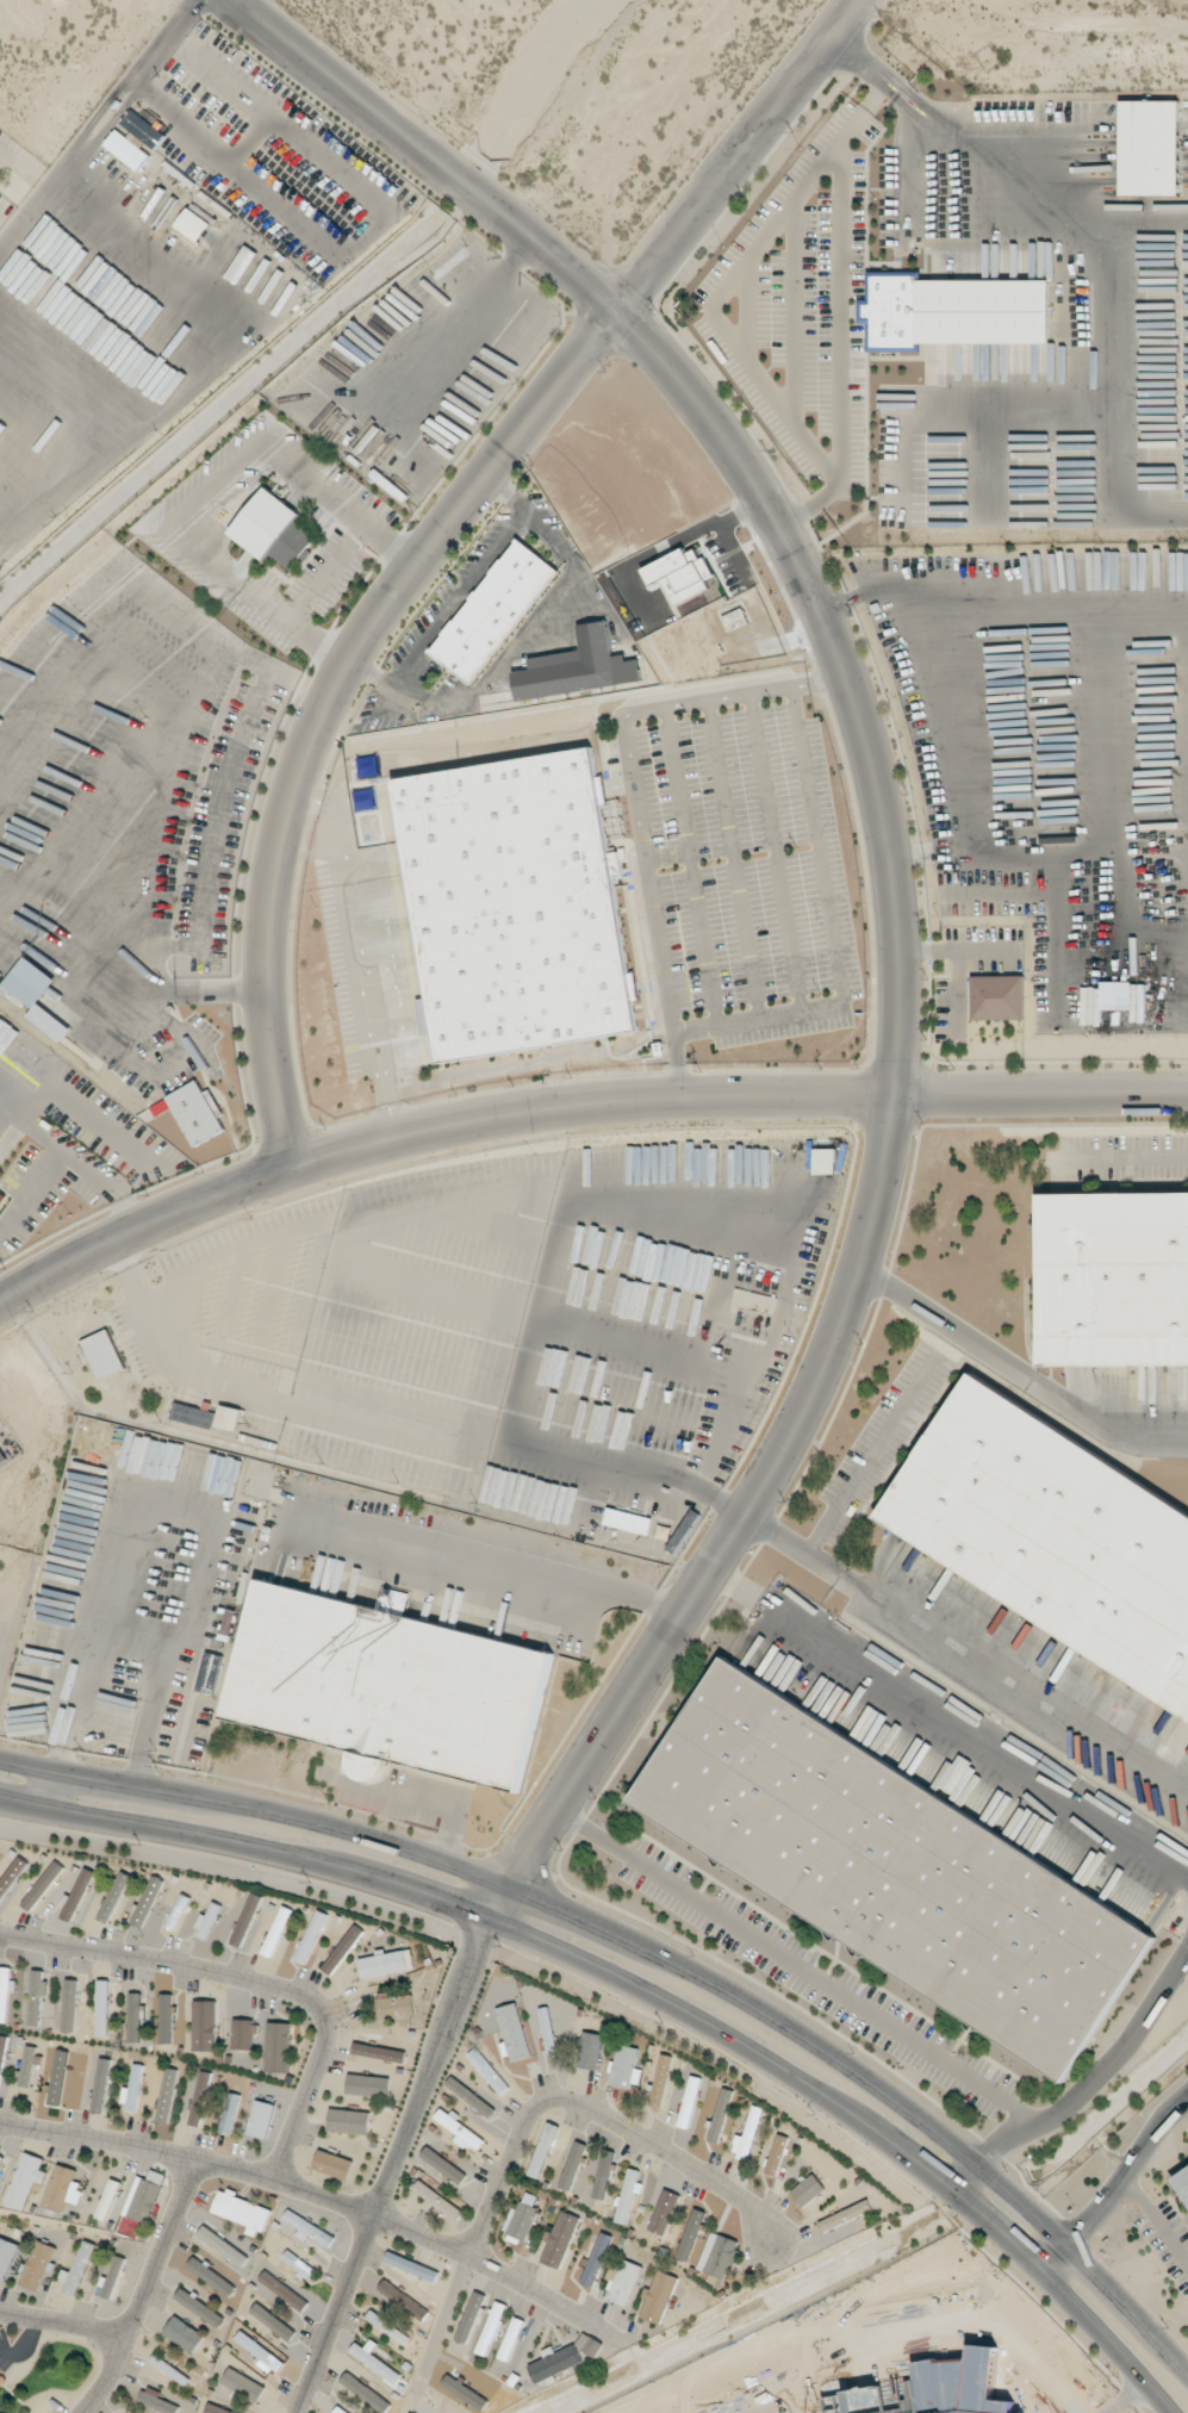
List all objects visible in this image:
building: (143, 129)
building: (1150, 148)
building: (126, 150)
road: (4, 160)
building: (193, 225)
building: (952, 311)
road: (459, 321)
road: (213, 484)
road: (343, 502)
building: (273, 529)
road: (437, 533)
road: (392, 540)
road: (330, 571)
road: (260, 599)
building: (495, 611)
road: (319, 641)
building: (578, 667)
road: (821, 679)
road: (636, 708)
road: (900, 882)
building: (517, 902)
road: (659, 944)
road: (360, 951)
road: (836, 960)
building: (1115, 995)
building: (37, 996)
building: (997, 997)
road: (574, 1106)
building: (197, 1113)
road: (1118, 1159)
building: (2, 1193)
building: (1117, 1280)
building: (104, 1354)
road: (1019, 1370)
building: (193, 1416)
building: (229, 1417)
road: (867, 1454)
building: (2, 1456)
building: (628, 1520)
building: (1051, 1534)
road: (790, 1546)
road: (493, 1561)
building: (210, 1673)
building: (390, 1685)
road: (1013, 1689)
road: (950, 1717)
building: (895, 1871)
building: (11, 1876)
building: (42, 1885)
building: (77, 1893)
building: (114, 1896)
building: (147, 1901)
building: (178, 1913)
building: (245, 1918)
building: (276, 1930)
building: (311, 1936)
building: (342, 1949)
road: (655, 1953)
building: (386, 1964)
road: (250, 1982)
road: (829, 1988)
building: (5, 1991)
road: (646, 1992)
building: (36, 1995)
building: (69, 2005)
building: (394, 2005)
building: (102, 2008)
building: (133, 2017)
building: (166, 2019)
building: (204, 2025)
building: (547, 2030)
building: (512, 2033)
building: (243, 2034)
road: (1124, 2042)
building: (2, 2050)
building: (589, 2050)
building: (379, 2052)
building: (27, 2065)
building: (626, 2066)
building: (487, 2071)
building: (58, 2073)
building: (660, 2081)
building: (367, 2084)
building: (100, 2085)
building: (132, 2089)
building: (167, 2095)
building: (199, 2098)
building: (689, 2101)
building: (229, 2113)
road: (530, 2117)
building: (261, 2119)
building: (348, 2121)
building: (461, 2131)
building: (747, 2133)
road: (1153, 2134)
building: (543, 2150)
building: (776, 2154)
building: (1, 2160)
building: (332, 2164)
road: (390, 2165)
building: (443, 2165)
building: (572, 2165)
building: (603, 2175)
building: (1183, 2175)
road: (964, 2177)
building: (26, 2181)
building: (1183, 2184)
building: (64, 2188)
building: (807, 2190)
building: (144, 2196)
road: (324, 2196)
building: (627, 2196)
building: (108, 2199)
building: (437, 2200)
building: (242, 2212)
building: (664, 2212)
road: (1093, 2212)
building: (522, 2218)
road: (1155, 2222)
building: (309, 2228)
building: (691, 2234)
building: (560, 2239)
building: (223, 2245)
building: (719, 2255)
building: (6, 2256)
building: (596, 2259)
road: (1053, 2259)
building: (37, 2265)
building: (300, 2265)
building: (411, 2265)
building: (76, 2268)
building: (211, 2276)
building: (113, 2277)
building: (622, 2281)
road: (138, 2290)
building: (282, 2290)
building: (658, 2296)
building: (403, 2300)
building: (199, 2307)
building: (469, 2316)
building: (272, 2321)
road: (61, 2325)
building: (184, 2334)
road: (19, 2343)
building: (589, 2344)
building: (261, 2353)
building: (373, 2359)
building: (556, 2362)
building: (243, 2386)
road: (808, 2388)
building: (366, 2393)
road: (1122, 2395)
building: (214, 2409)
building: (340, 2411)

